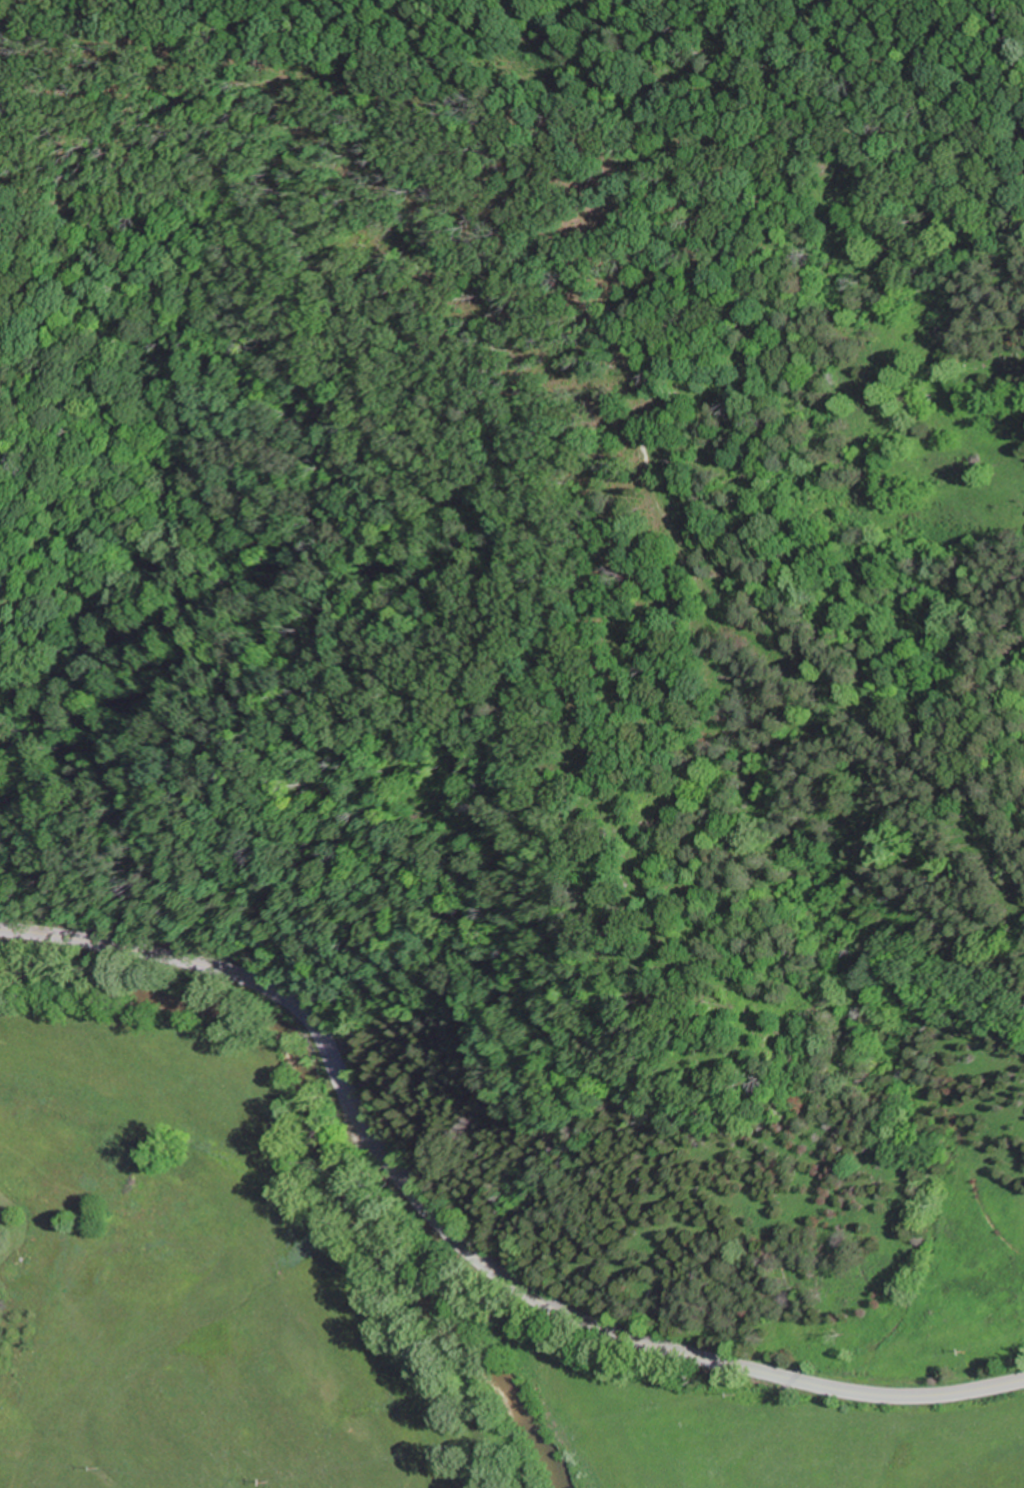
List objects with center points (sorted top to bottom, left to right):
building: (141, 1188)
road: (460, 1245)

